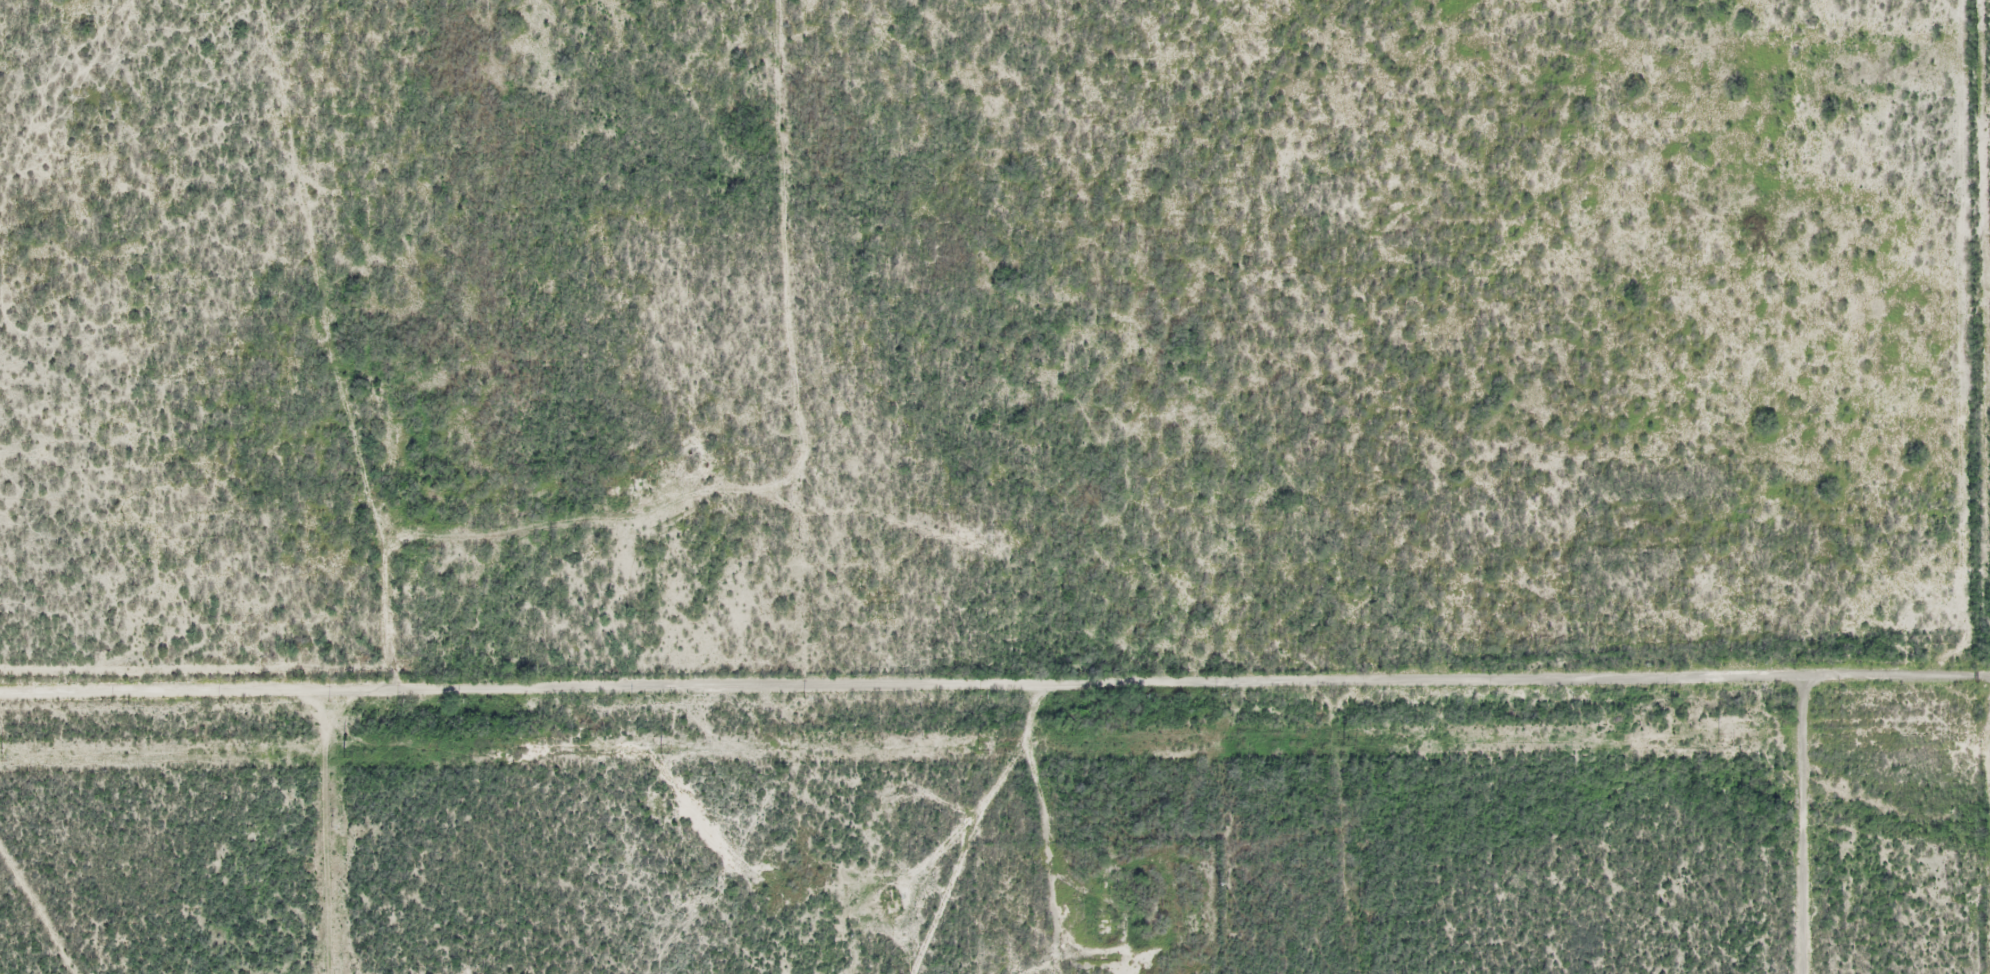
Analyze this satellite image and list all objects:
road: (995, 682)
power tower: (1719, 736)
power tower: (1346, 740)
power tower: (978, 744)
power tower: (660, 749)
power tower: (343, 751)
power tower: (3, 755)
road: (1800, 816)

